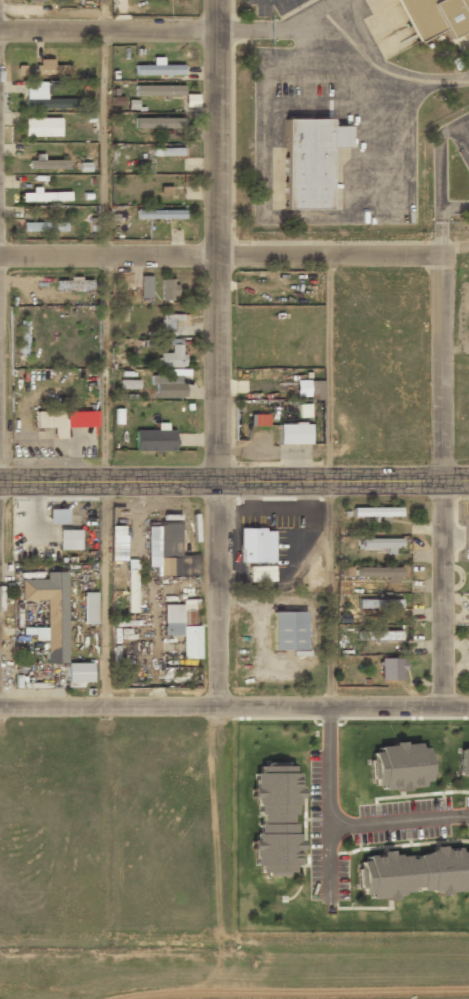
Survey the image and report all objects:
building: (36, 0)
building: (432, 17)
road: (109, 28)
building: (158, 68)
building: (53, 69)
building: (35, 89)
building: (158, 90)
building: (159, 122)
building: (42, 126)
parking lot: (462, 133)
building: (171, 151)
building: (309, 161)
building: (47, 162)
building: (45, 195)
building: (160, 214)
building: (44, 226)
road: (104, 239)
road: (259, 255)
building: (73, 283)
building: (145, 286)
building: (168, 289)
building: (173, 322)
building: (173, 355)
building: (129, 384)
building: (168, 385)
building: (309, 388)
building: (304, 410)
building: (258, 419)
building: (51, 421)
building: (294, 433)
building: (155, 438)
road: (234, 478)
road: (328, 481)
road: (218, 495)
building: (377, 511)
building: (57, 515)
building: (380, 519)
road: (442, 520)
building: (69, 539)
building: (117, 542)
building: (382, 543)
building: (256, 545)
building: (169, 550)
building: (381, 572)
building: (131, 590)
road: (102, 593)
building: (379, 603)
building: (89, 607)
building: (50, 612)
building: (368, 627)
building: (181, 629)
building: (288, 630)
building: (379, 634)
building: (391, 668)
building: (79, 672)
road: (234, 708)
building: (463, 762)
building: (399, 766)
road: (329, 772)
building: (275, 819)
road: (367, 824)
building: (413, 873)
road: (233, 990)

